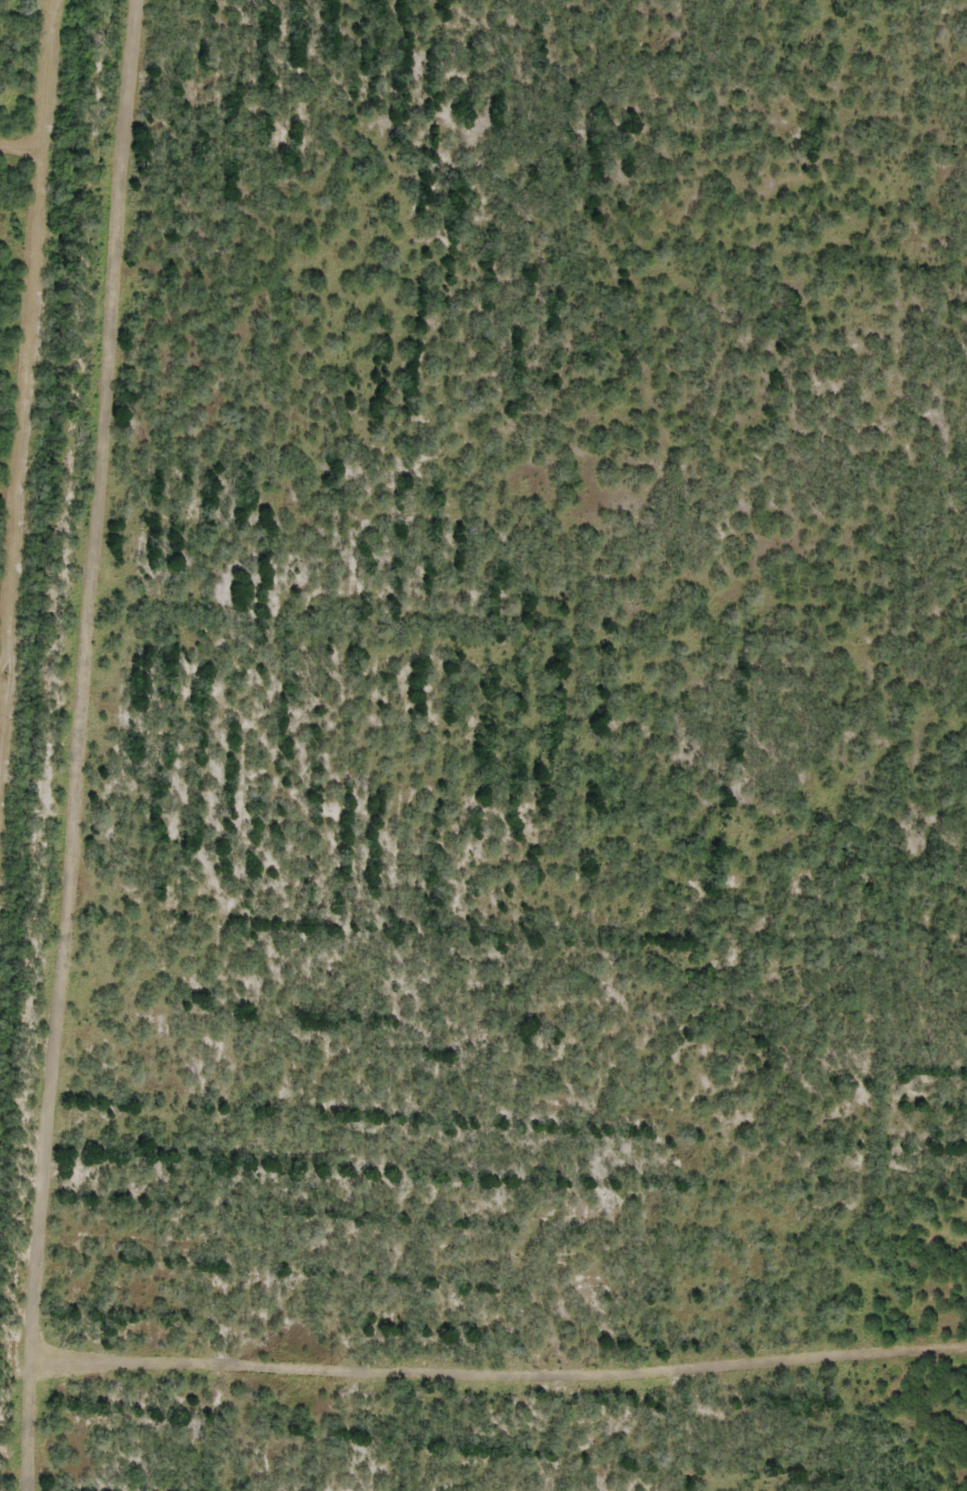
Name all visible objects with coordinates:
road: (13, 214)
road: (85, 671)

